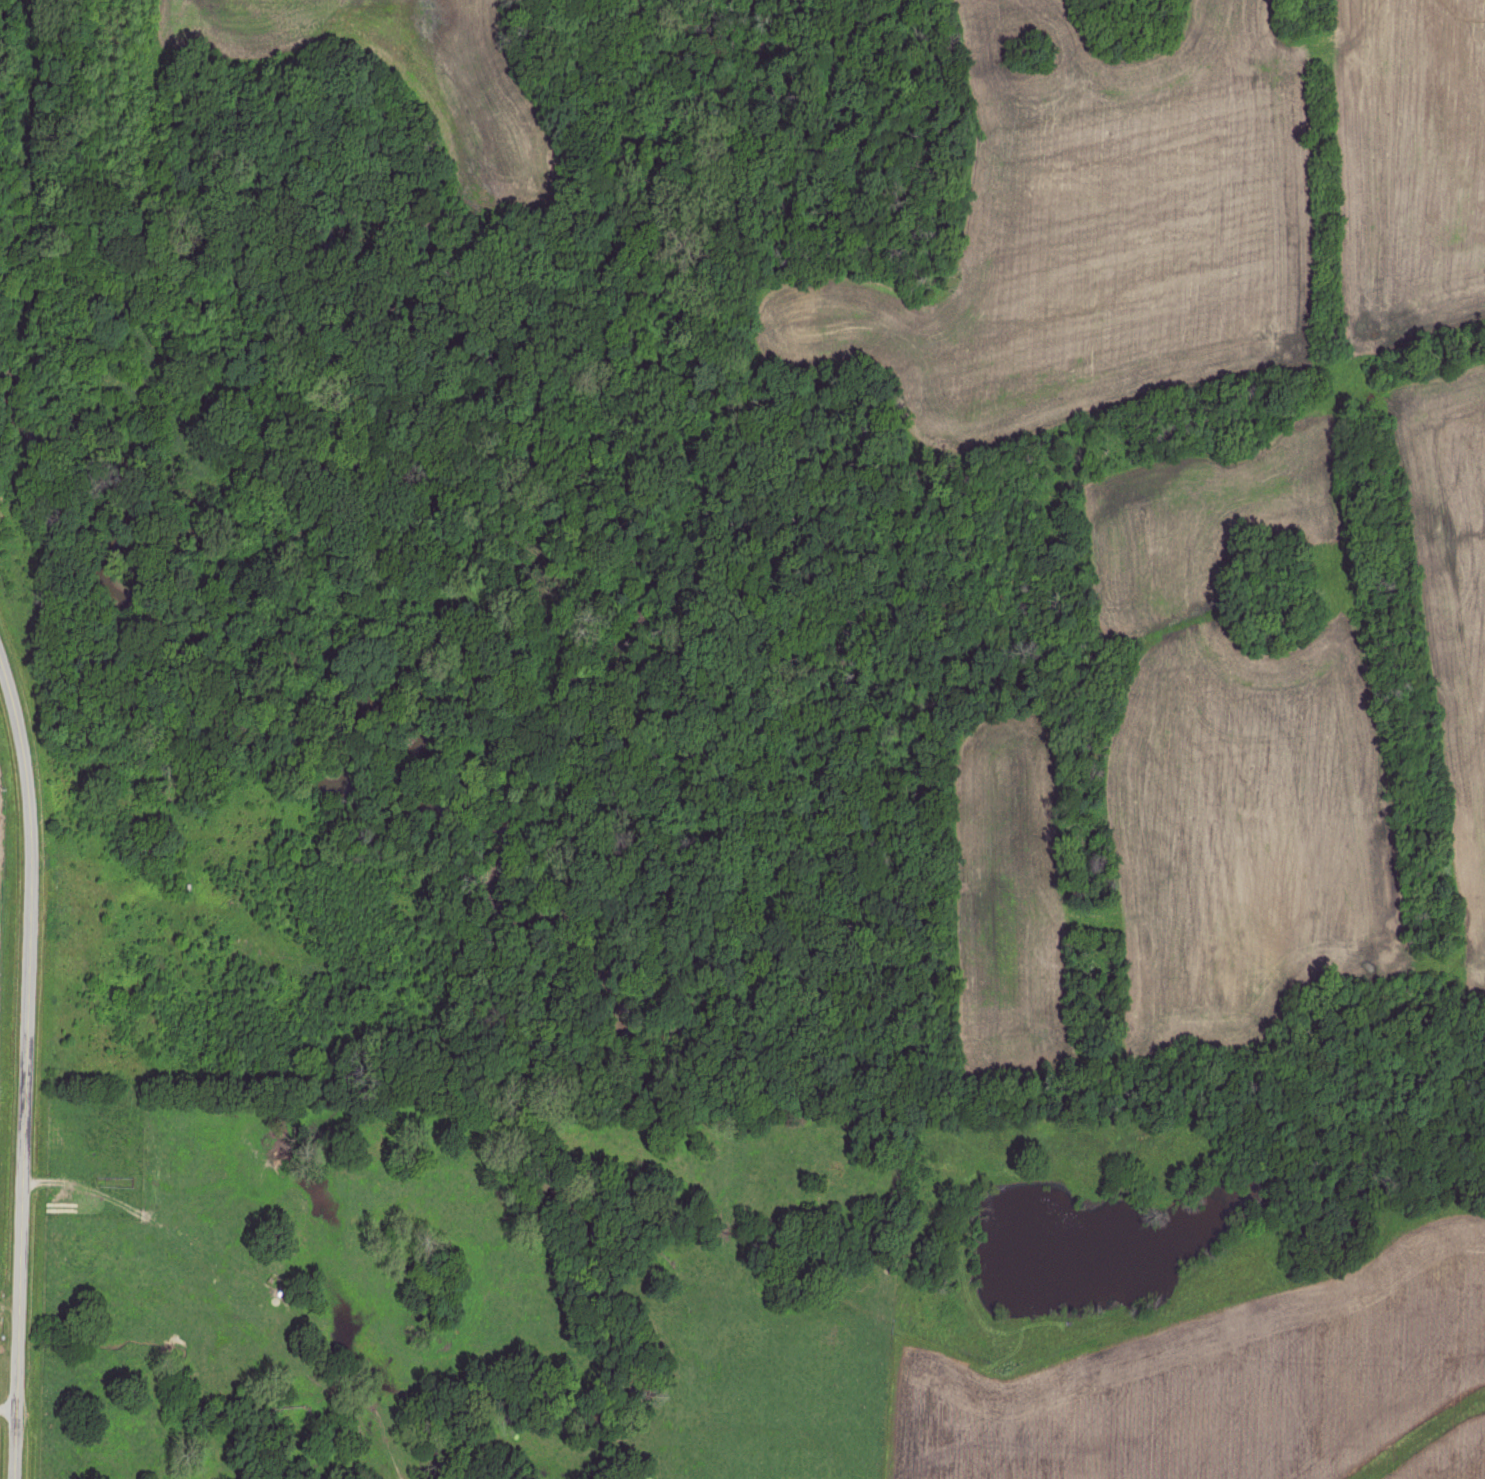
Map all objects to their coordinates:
road: (22, 1069)

